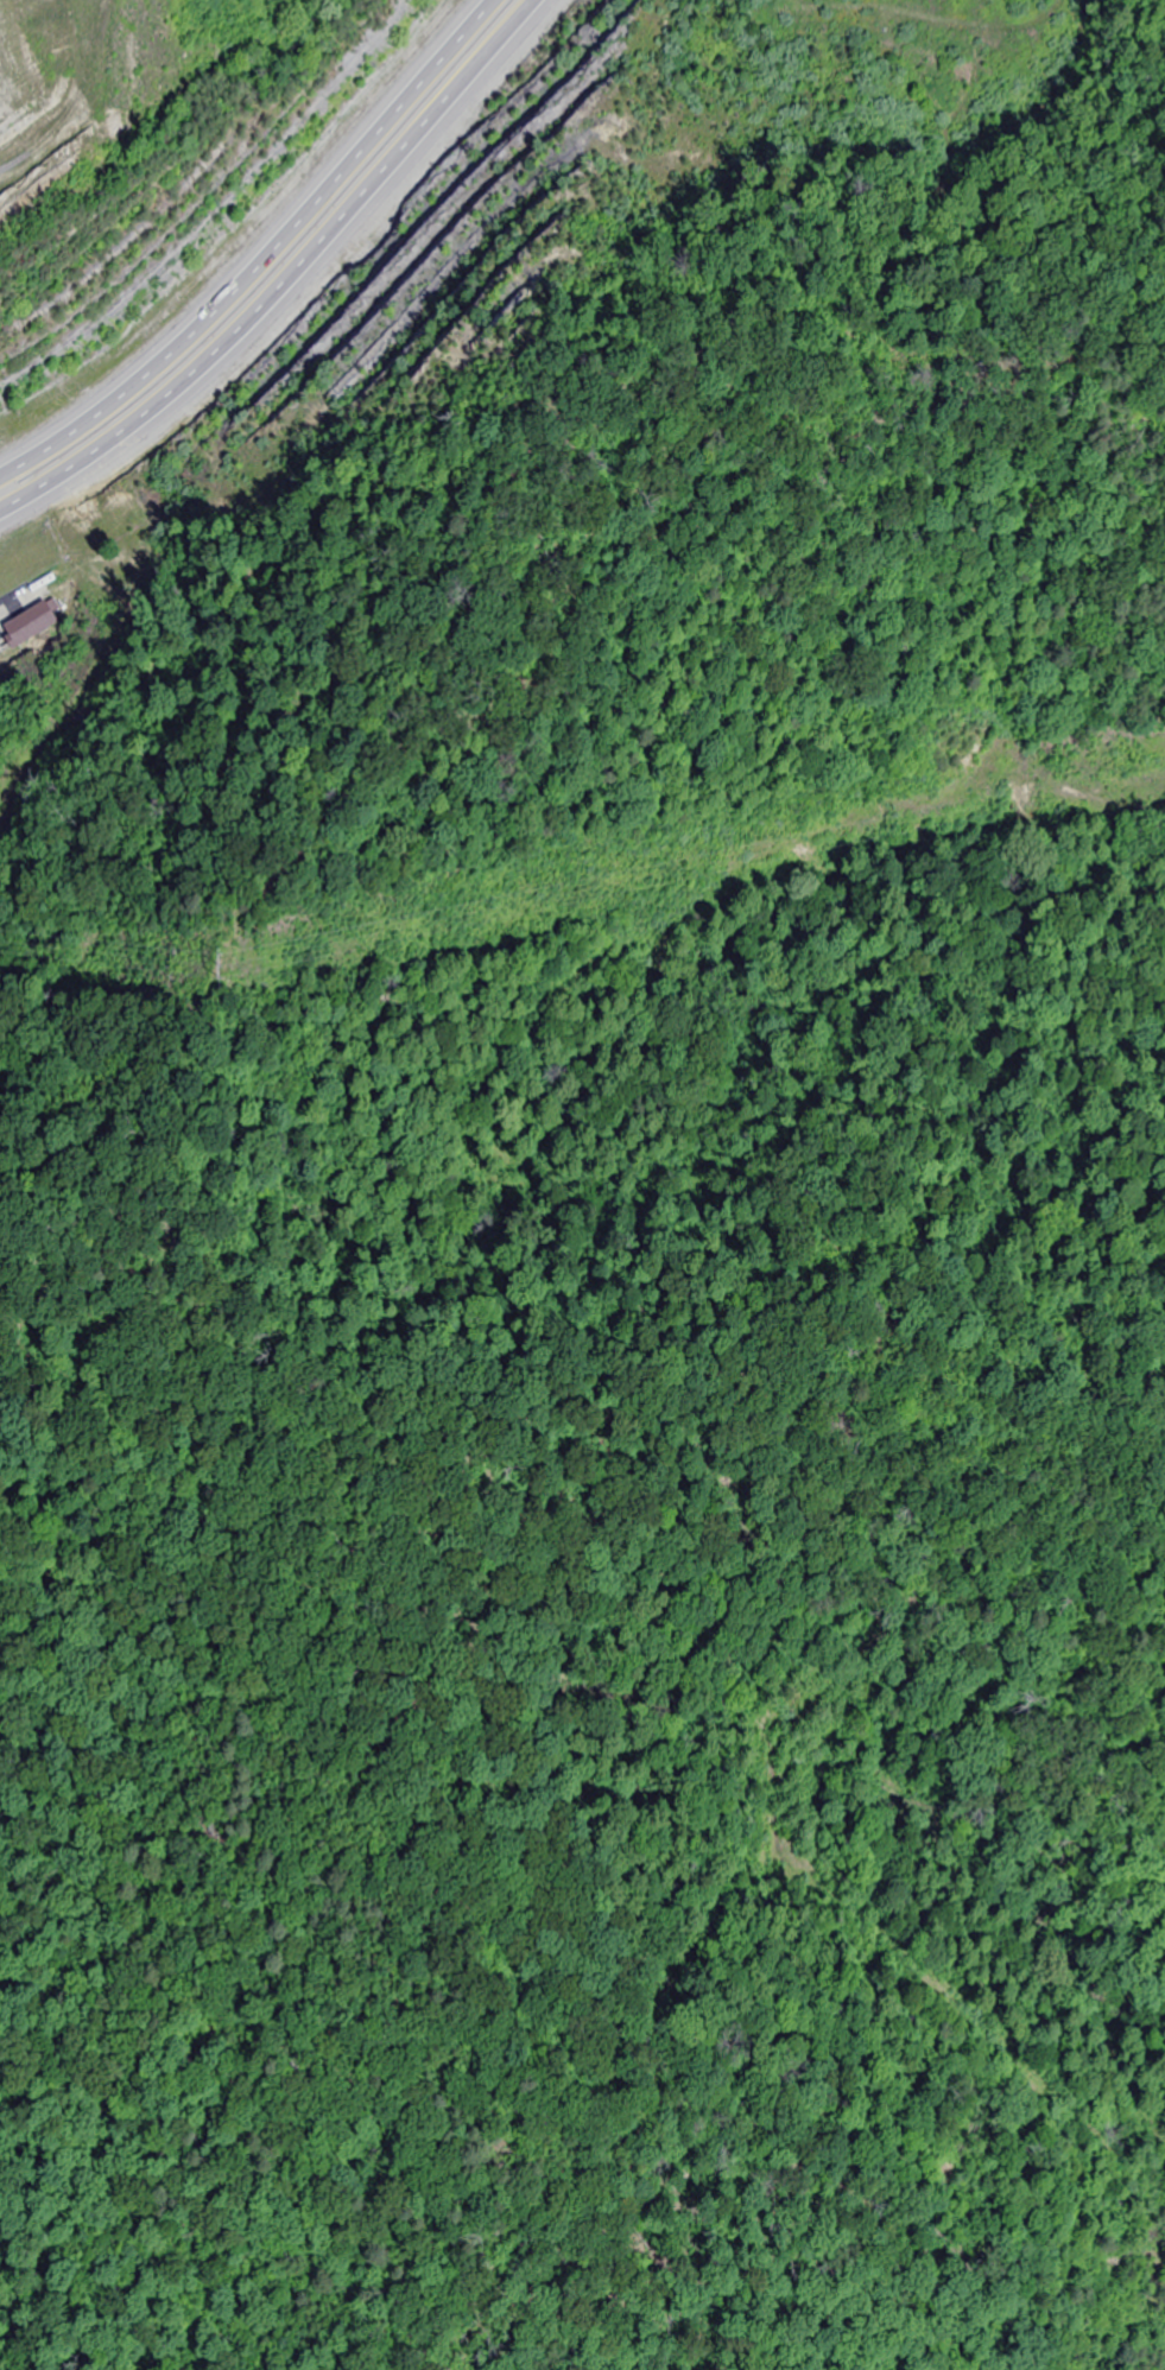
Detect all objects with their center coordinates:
road: (273, 267)
building: (30, 625)

